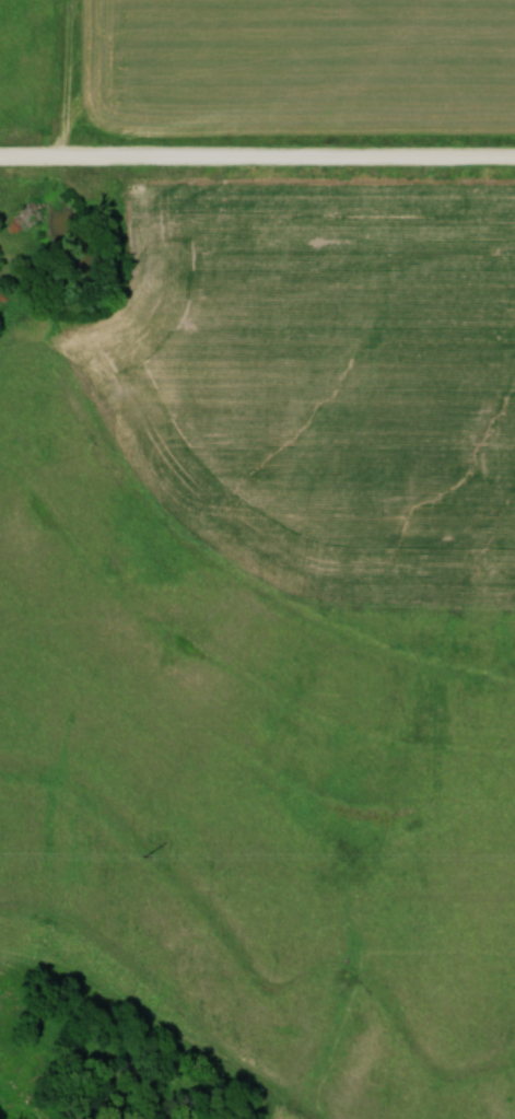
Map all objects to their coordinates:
road: (257, 151)
crop: (326, 386)
crop: (285, 1116)

